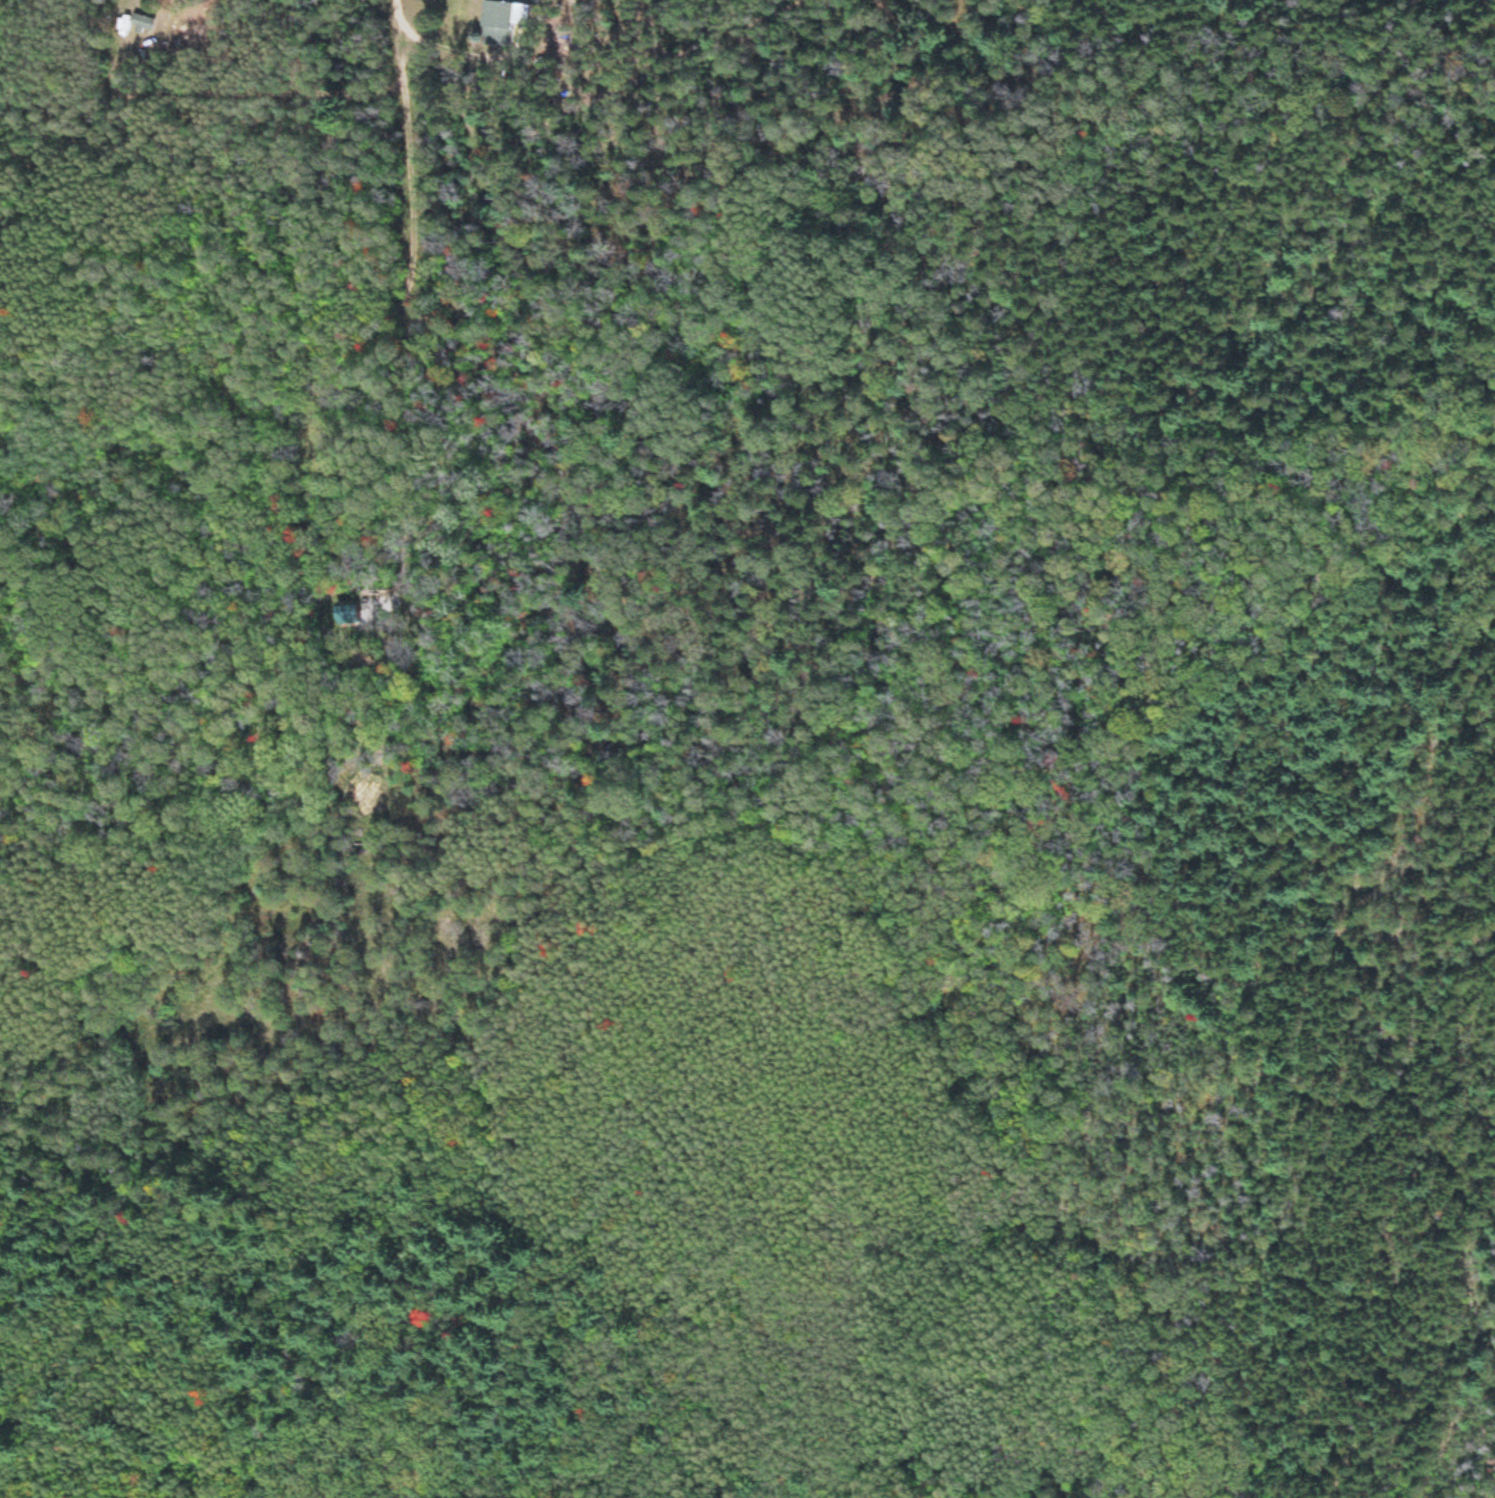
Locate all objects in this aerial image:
building: (143, 24)
building: (502, 24)
road: (429, 93)

